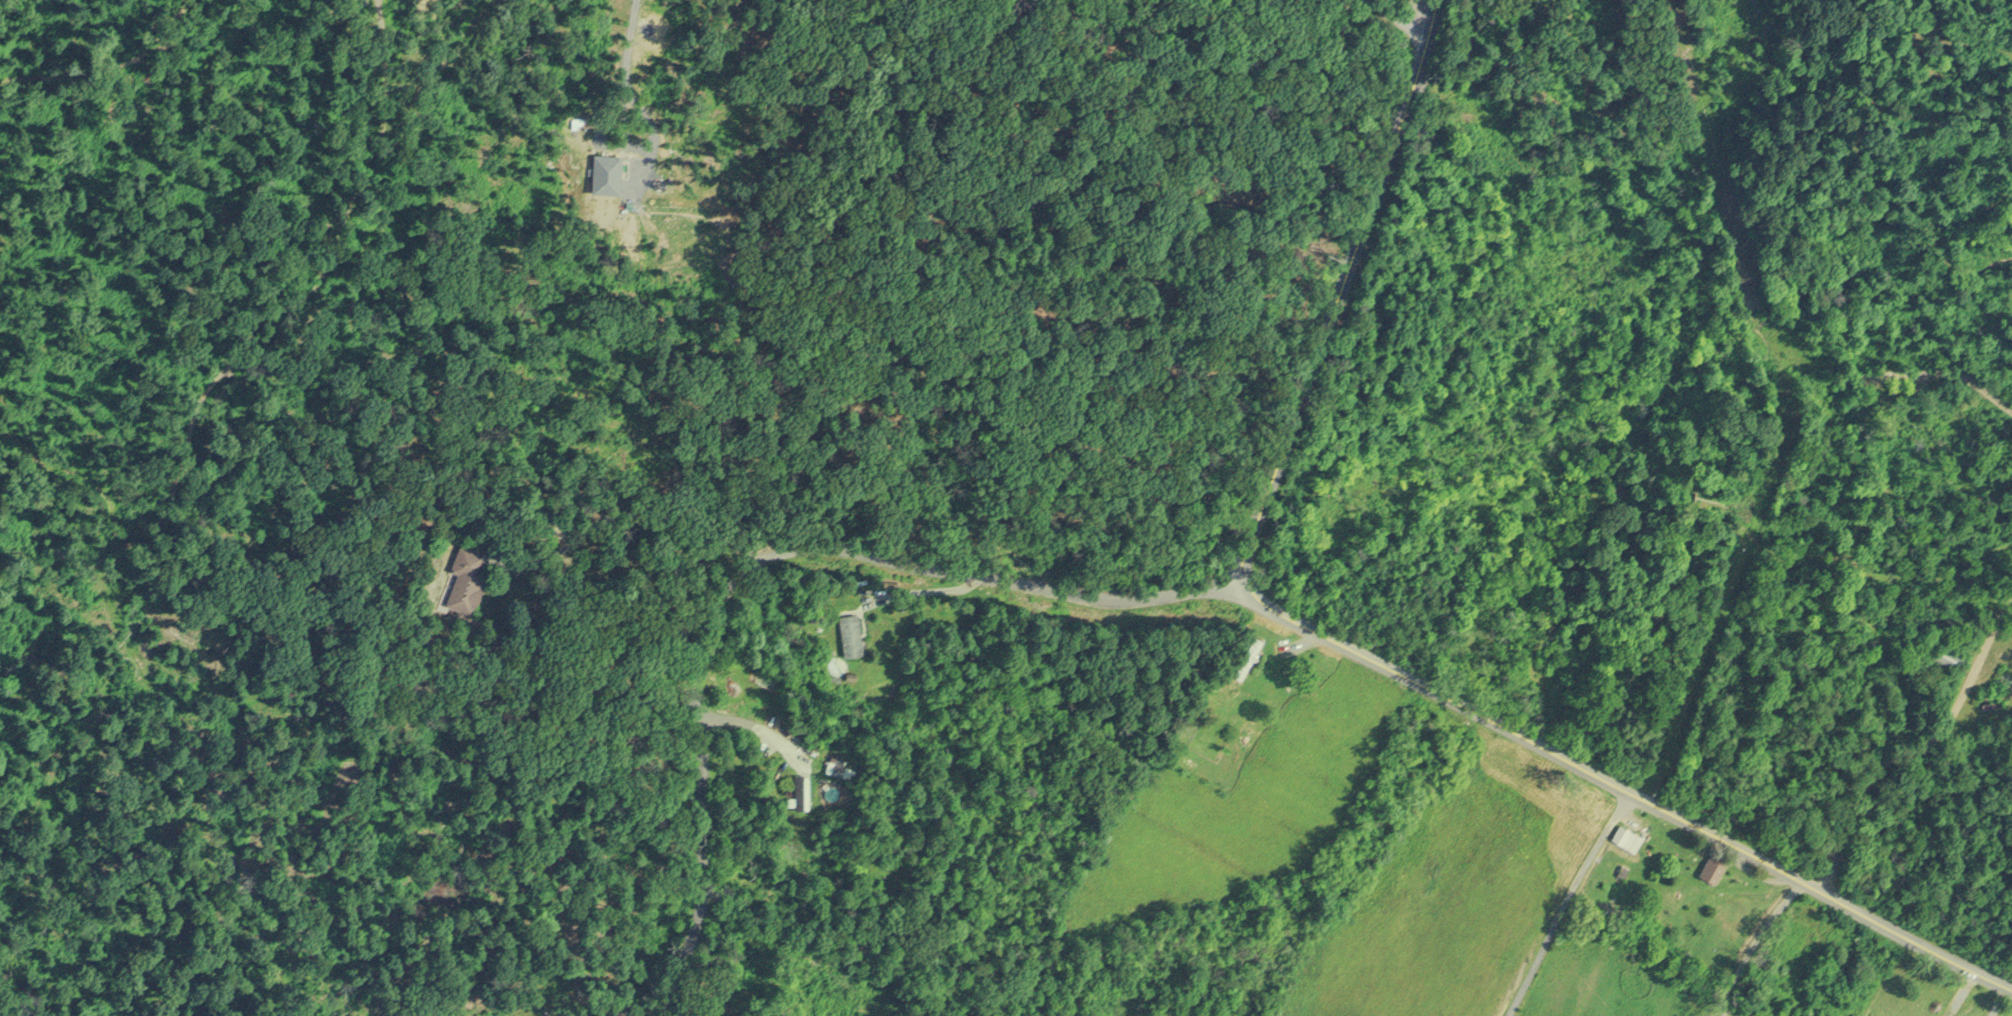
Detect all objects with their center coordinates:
road: (1388, 16)
road: (627, 34)
road: (643, 152)
road: (1332, 289)
road: (1964, 383)
road: (632, 516)
road: (760, 561)
building: (467, 571)
building: (851, 631)
road: (1333, 636)
building: (1950, 652)
building: (1249, 654)
road: (747, 729)
road: (1919, 746)
building: (800, 788)
building: (1627, 835)
road: (1722, 838)
building: (1713, 867)
road: (1552, 899)

